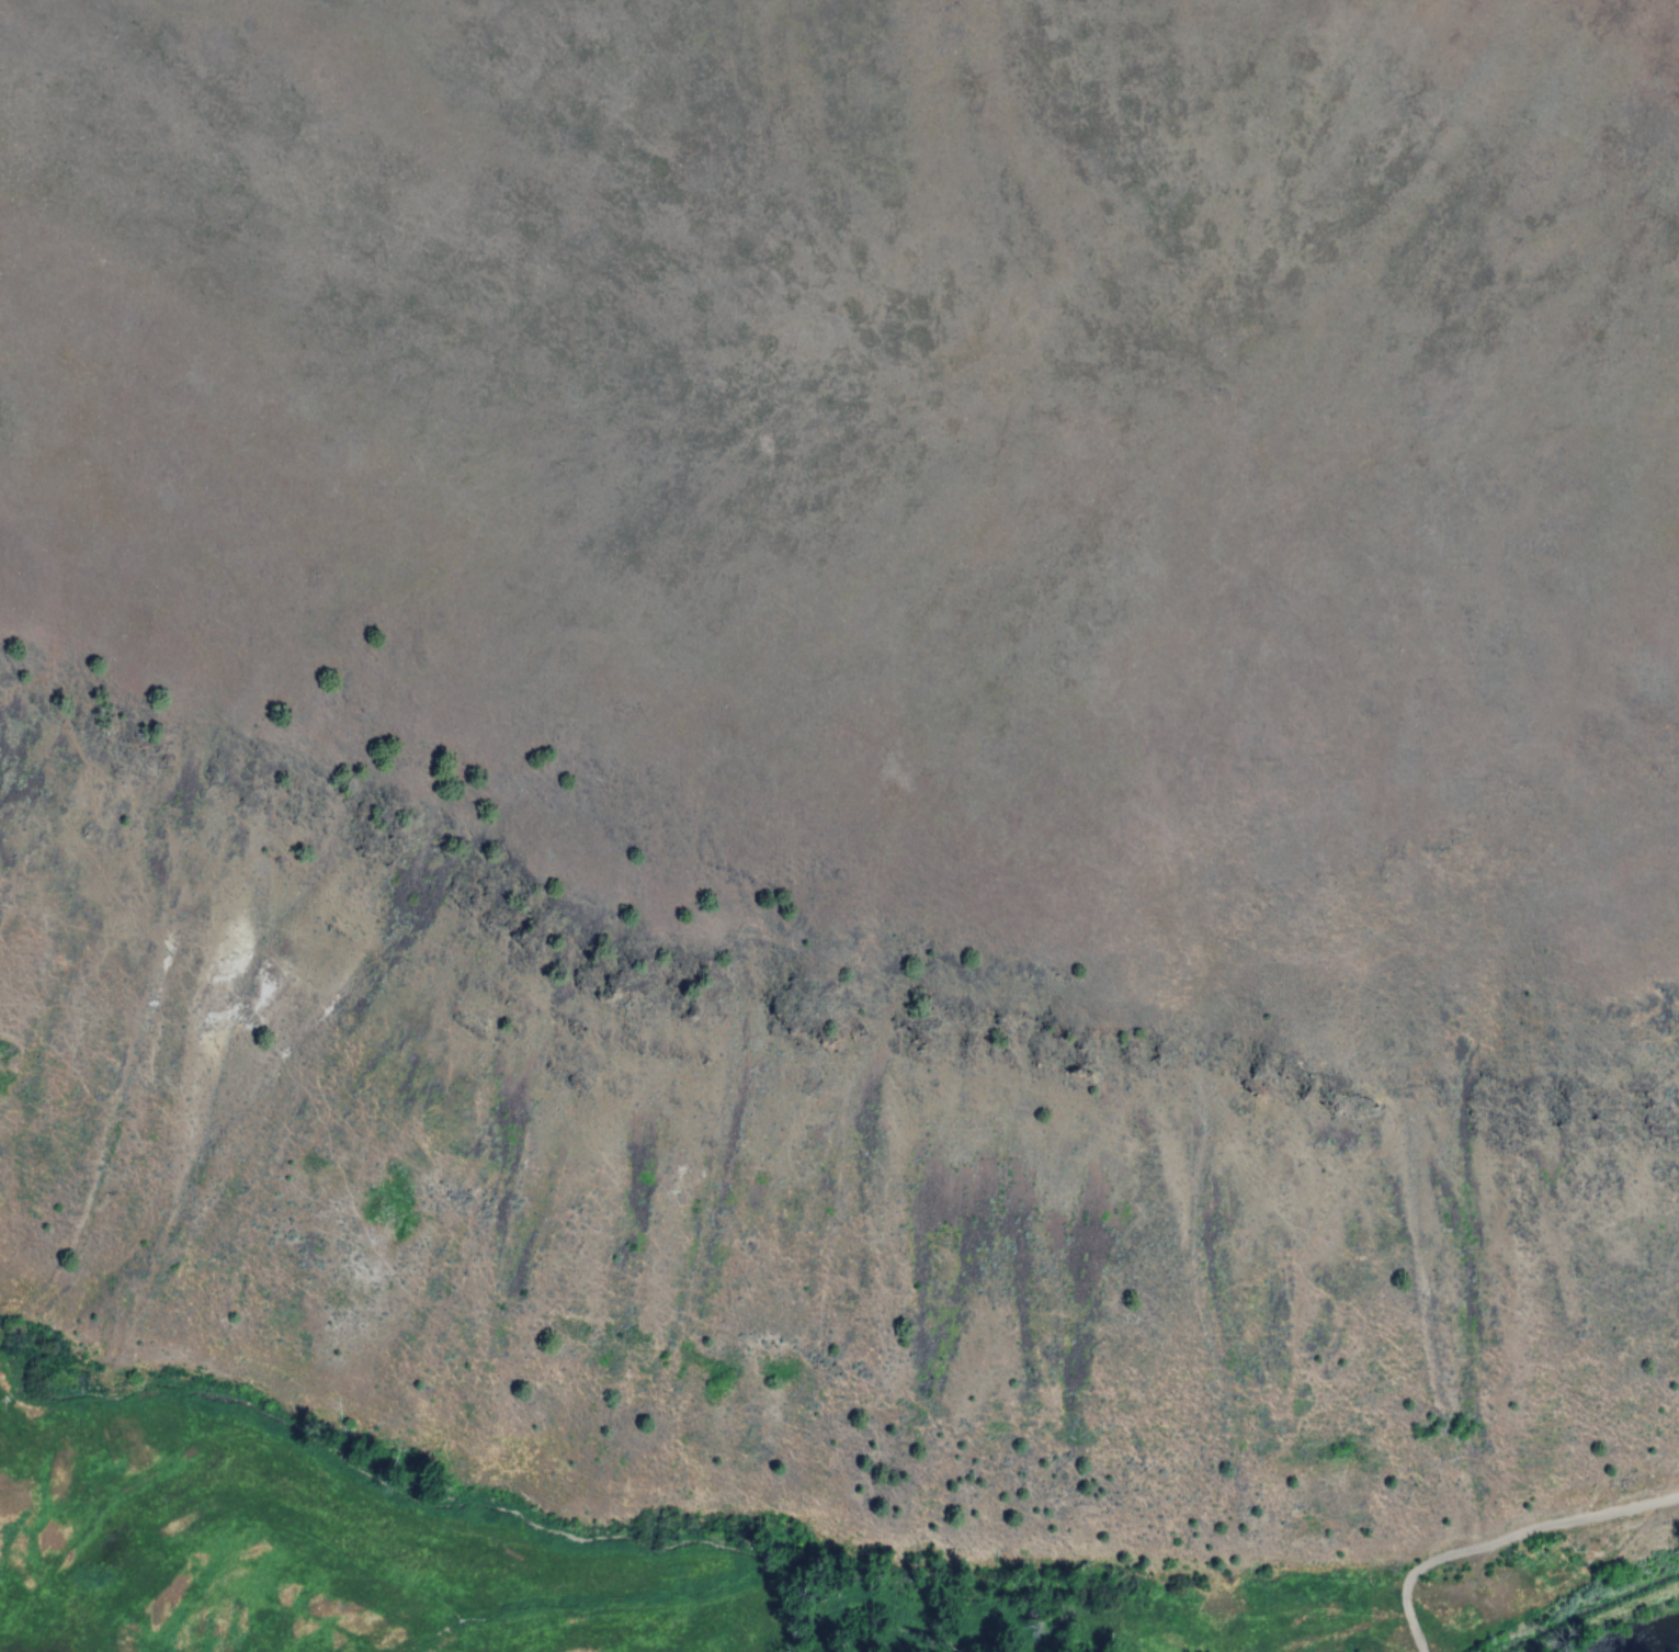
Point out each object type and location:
river: (1643, 1639)

